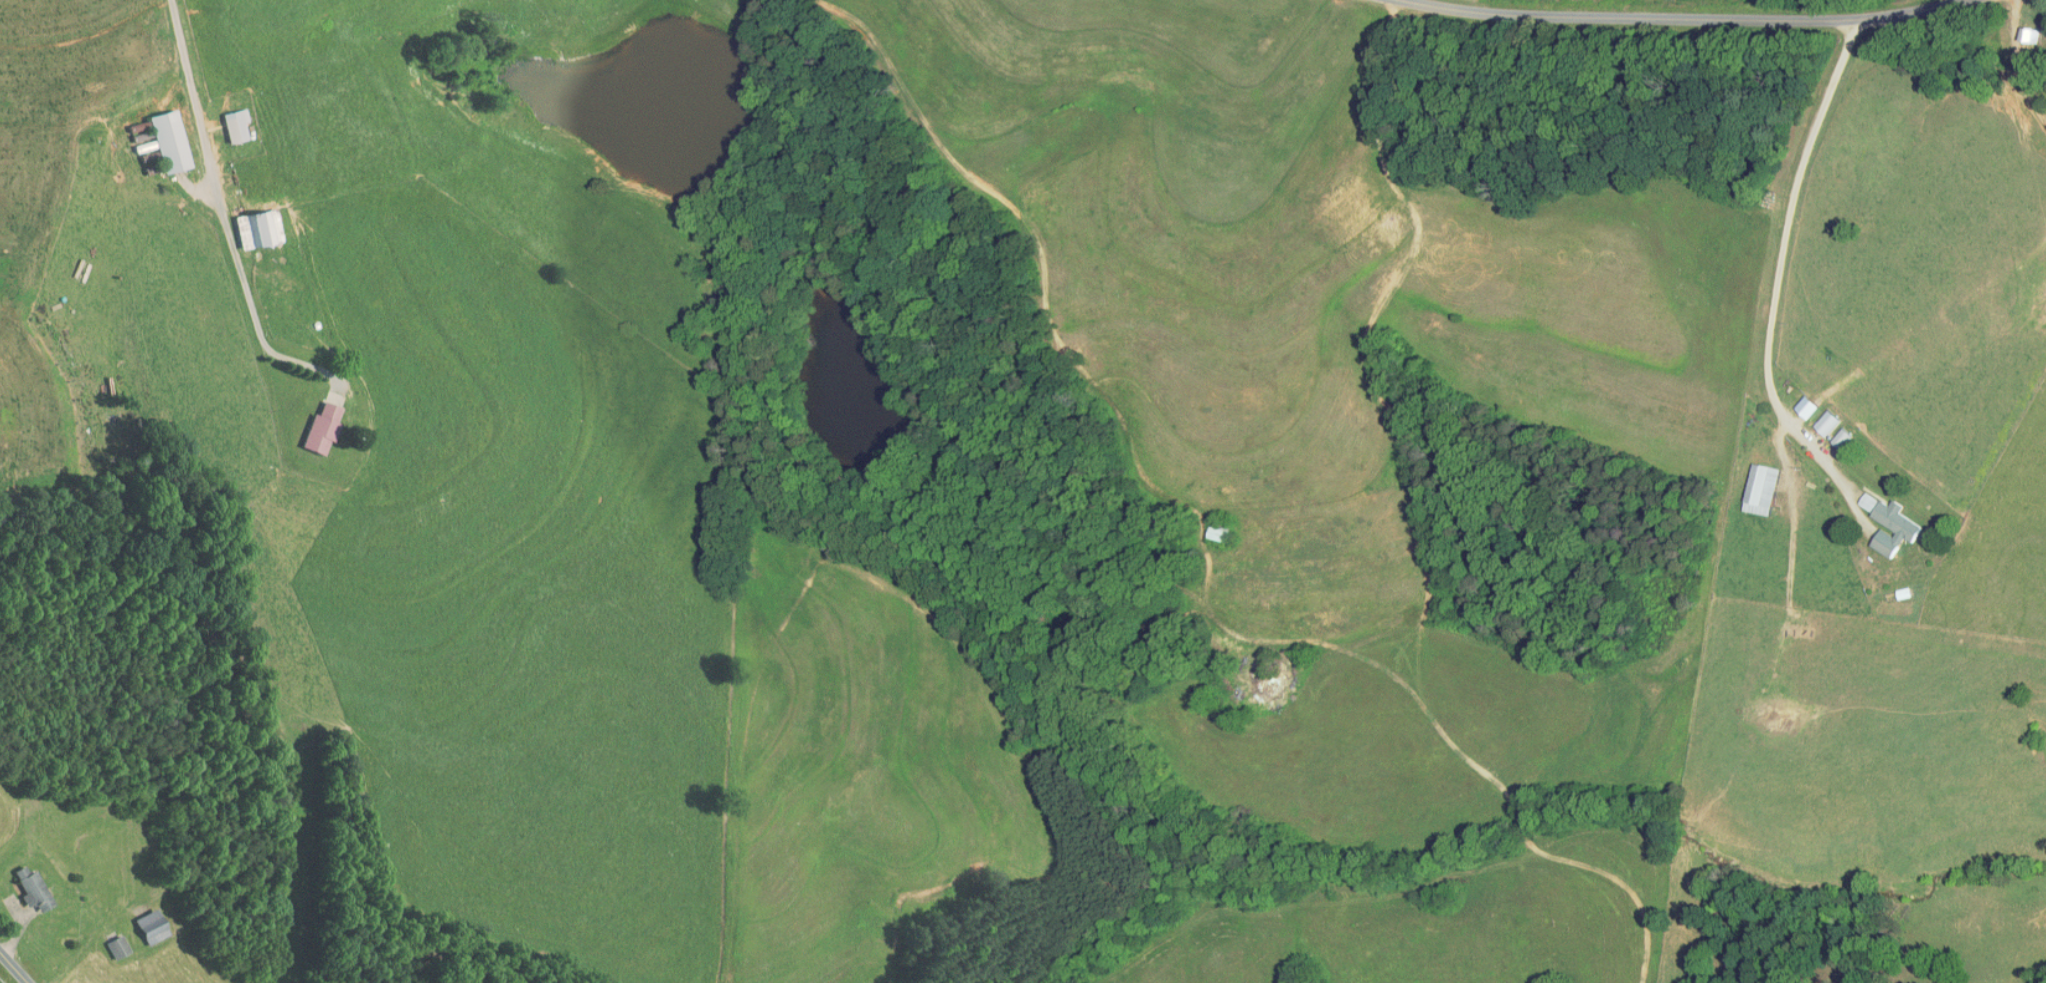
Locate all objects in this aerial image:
road: (1674, 16)
building: (2030, 36)
road: (2022, 63)
building: (234, 124)
building: (168, 140)
road: (930, 154)
road: (214, 164)
building: (257, 227)
road: (1781, 262)
building: (321, 427)
building: (1763, 488)
building: (1895, 527)
building: (1268, 681)
building: (31, 888)
building: (150, 926)
building: (117, 946)
road: (14, 968)
road: (24, 981)

